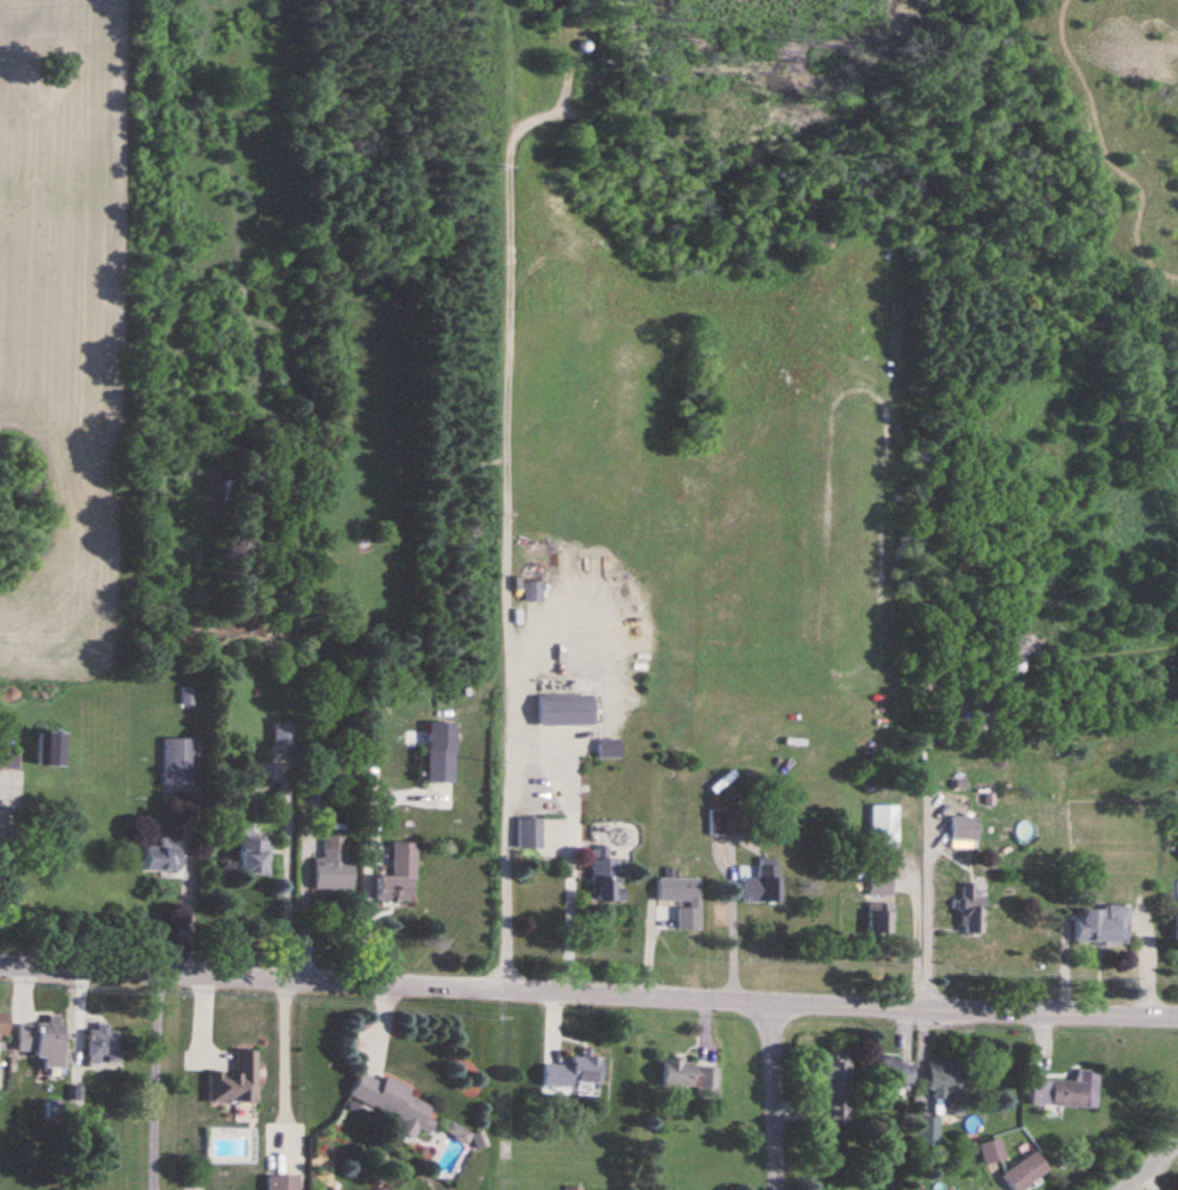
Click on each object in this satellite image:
road: (508, 526)
building: (529, 588)
building: (558, 708)
building: (279, 734)
building: (609, 746)
building: (47, 748)
building: (8, 758)
building: (174, 759)
building: (440, 764)
building: (242, 766)
building: (339, 766)
building: (724, 818)
building: (881, 824)
building: (963, 829)
building: (529, 833)
road: (566, 852)
building: (253, 856)
building: (160, 858)
building: (333, 864)
road: (286, 866)
building: (401, 874)
building: (600, 874)
building: (759, 880)
building: (877, 882)
road: (185, 886)
building: (675, 888)
road: (363, 889)
road: (302, 890)
building: (969, 906)
building: (877, 917)
road: (728, 922)
building: (1096, 923)
building: (1173, 929)
road: (922, 941)
road: (588, 993)
building: (1, 1024)
building: (45, 1041)
building: (102, 1044)
road: (283, 1066)
building: (890, 1070)
building: (572, 1072)
building: (691, 1076)
road: (150, 1081)
building: (236, 1081)
building: (834, 1081)
building: (947, 1083)
building: (1062, 1089)
road: (776, 1096)
building: (393, 1103)
building: (925, 1127)
building: (985, 1149)
road: (1150, 1166)
building: (1020, 1168)
building: (283, 1183)
building: (572, 1189)

